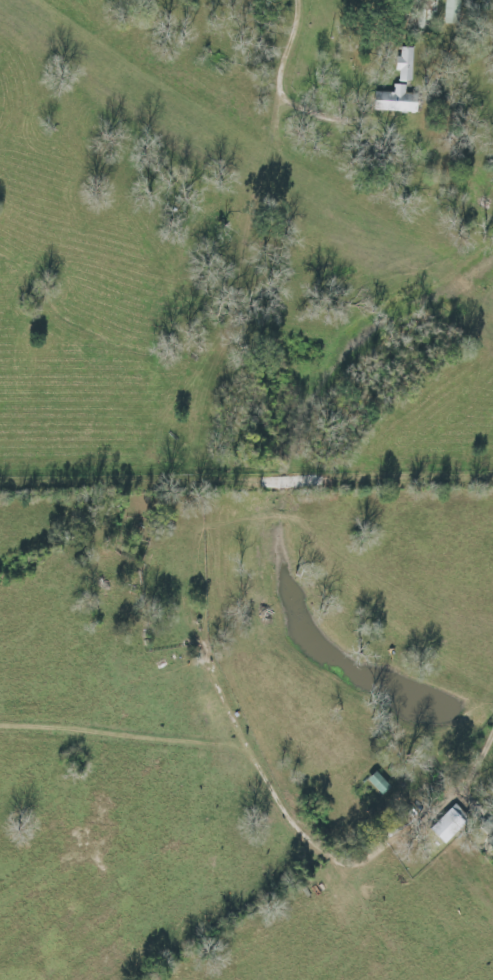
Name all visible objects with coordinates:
building: (454, 12)
building: (404, 65)
road: (278, 93)
building: (399, 101)
road: (479, 755)
building: (381, 783)

